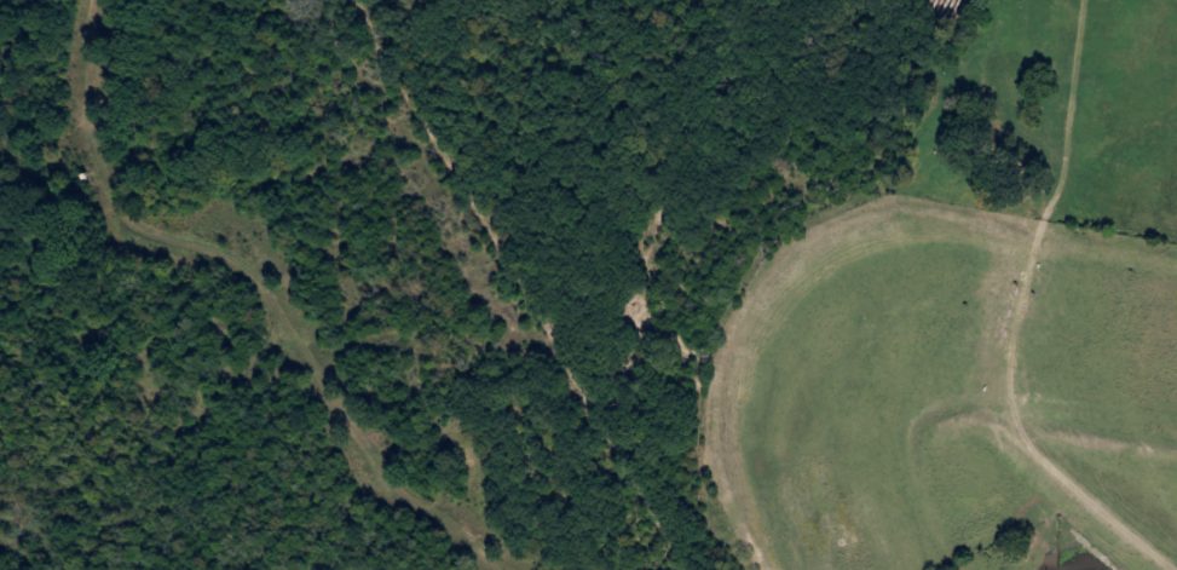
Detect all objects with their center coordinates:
road: (1011, 318)

